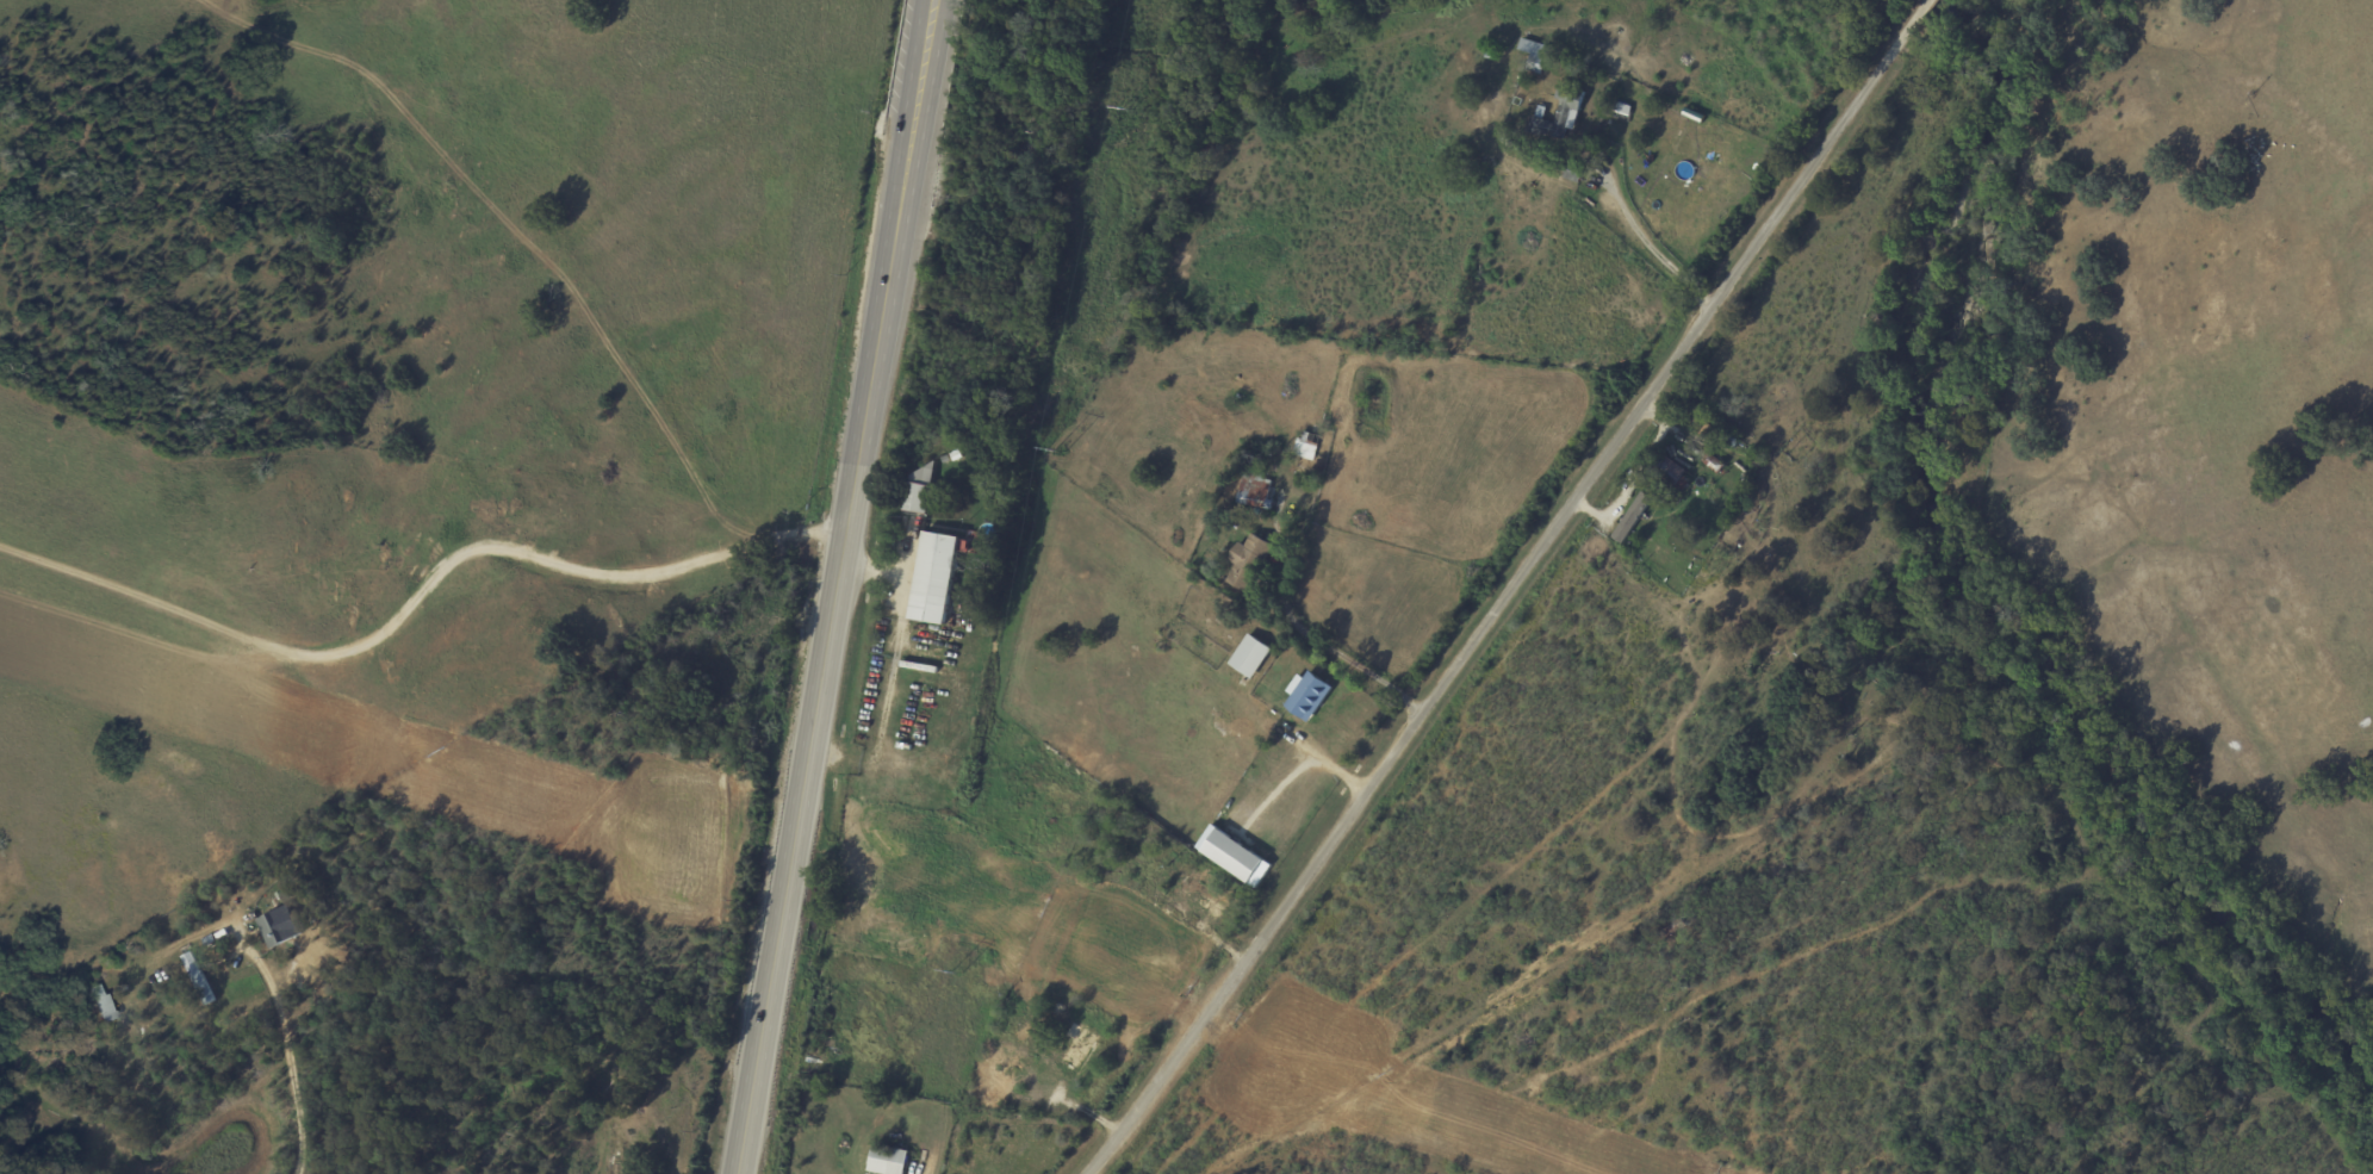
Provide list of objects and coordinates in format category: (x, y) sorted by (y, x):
building: (1534, 55)
power tower: (1126, 110)
building: (1561, 112)
road: (1644, 244)
building: (1305, 445)
power tower: (1057, 452)
building: (1669, 471)
building: (919, 487)
building: (1255, 490)
building: (1632, 517)
building: (1248, 563)
building: (933, 577)
road: (835, 586)
road: (1511, 589)
road: (418, 600)
road: (1300, 635)
building: (1249, 656)
building: (1306, 695)
building: (1232, 856)
building: (275, 928)
power tower: (956, 970)
building: (198, 979)
building: (101, 1002)
road: (293, 1085)
building: (888, 1160)

